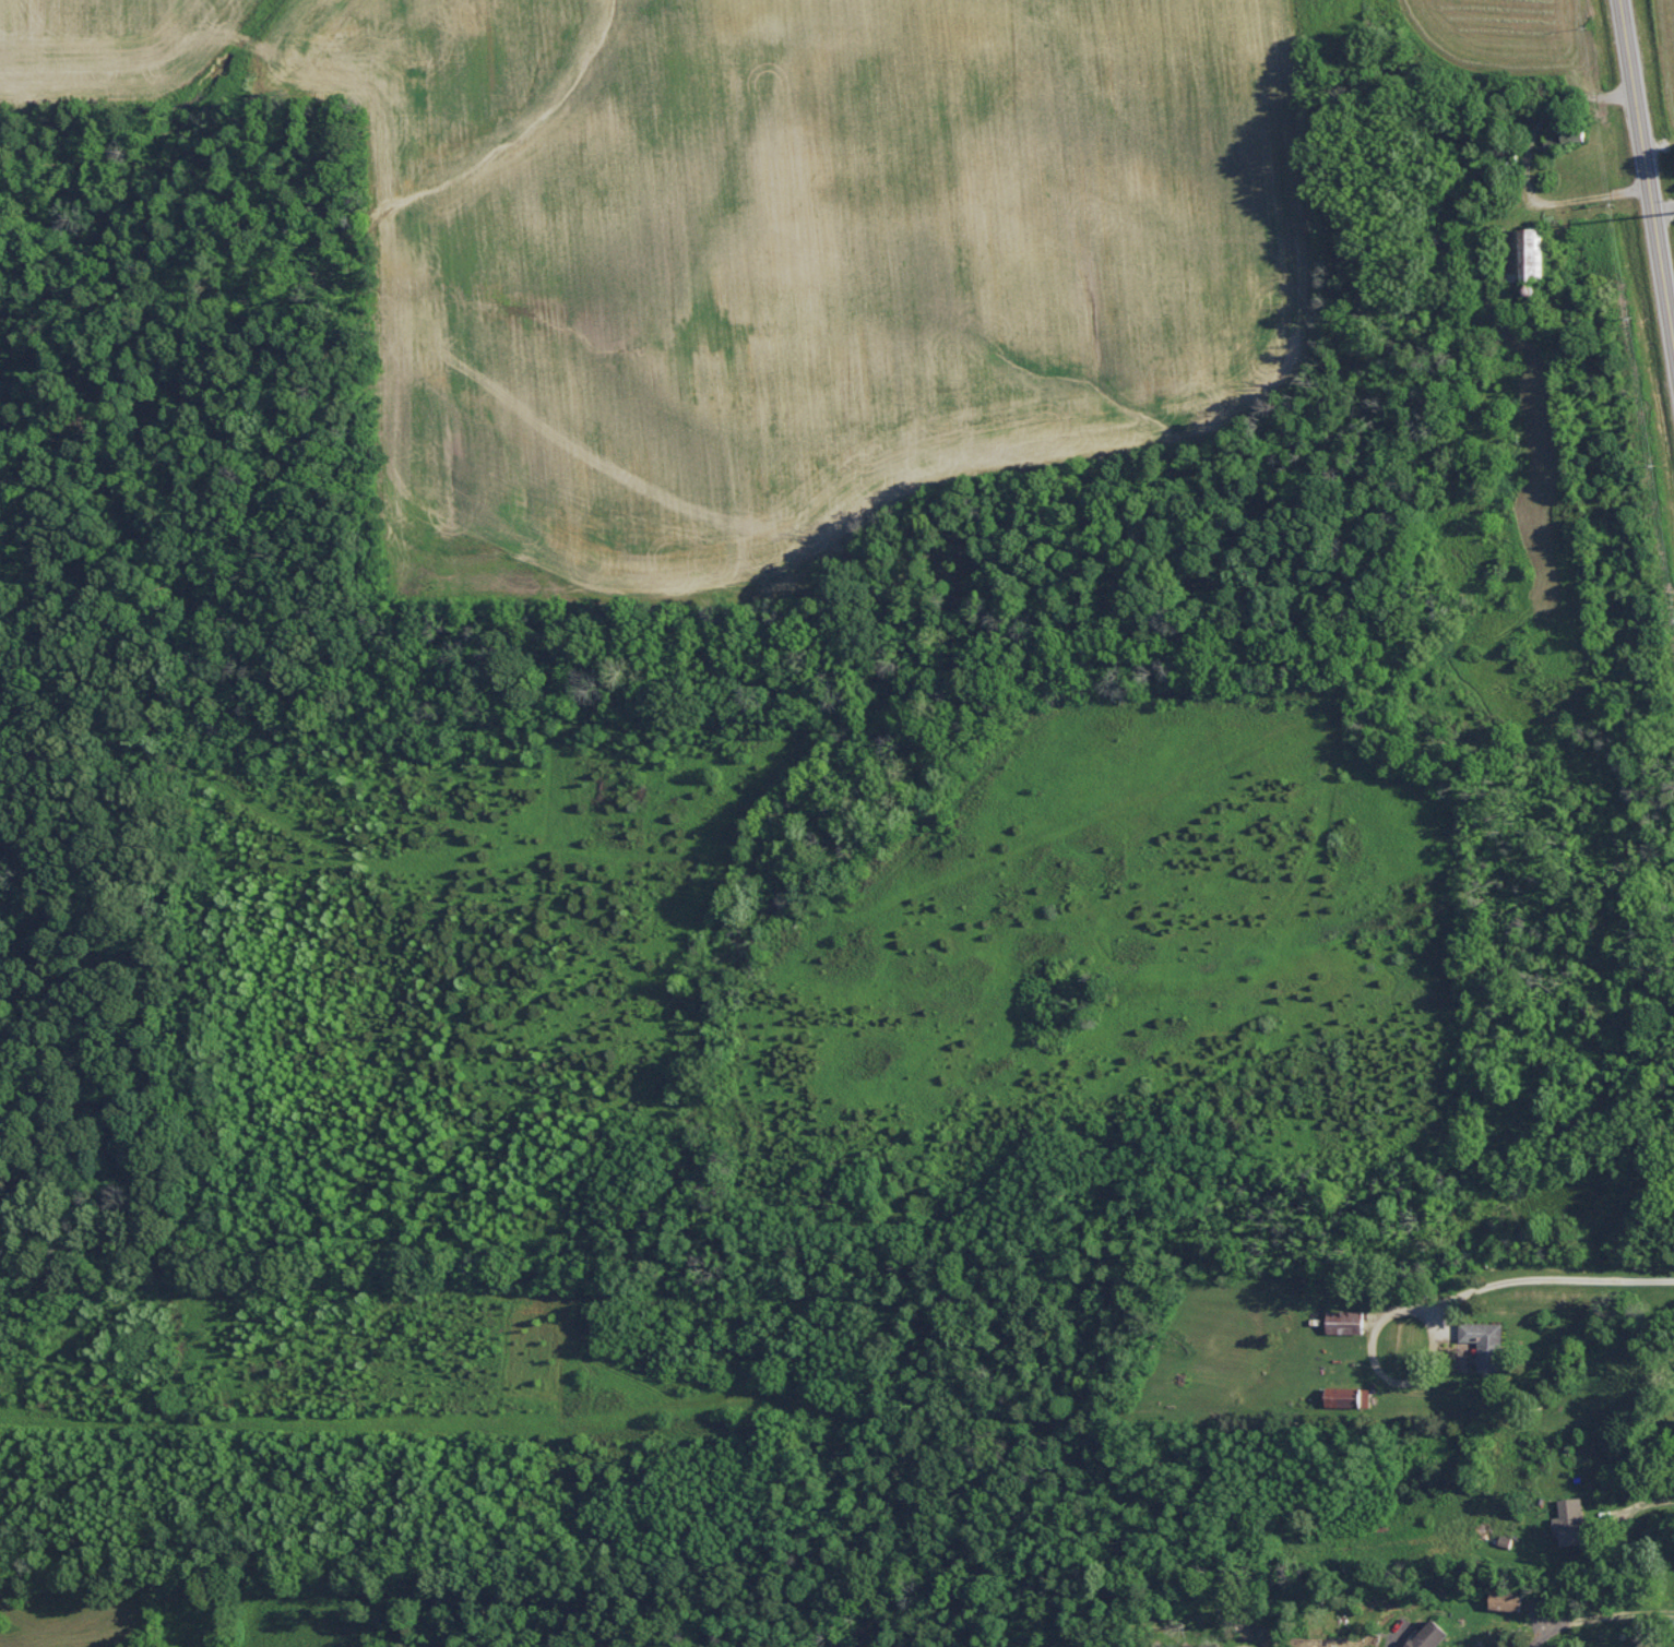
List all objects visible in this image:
road: (1525, 166)
road: (1646, 171)
building: (1522, 253)
road: (1546, 1278)
building: (1343, 1321)
building: (1482, 1341)
road: (1406, 1376)
building: (1345, 1395)
road: (1654, 1502)
building: (1568, 1519)
building: (1503, 1598)
road: (1599, 1620)
building: (1426, 1634)

